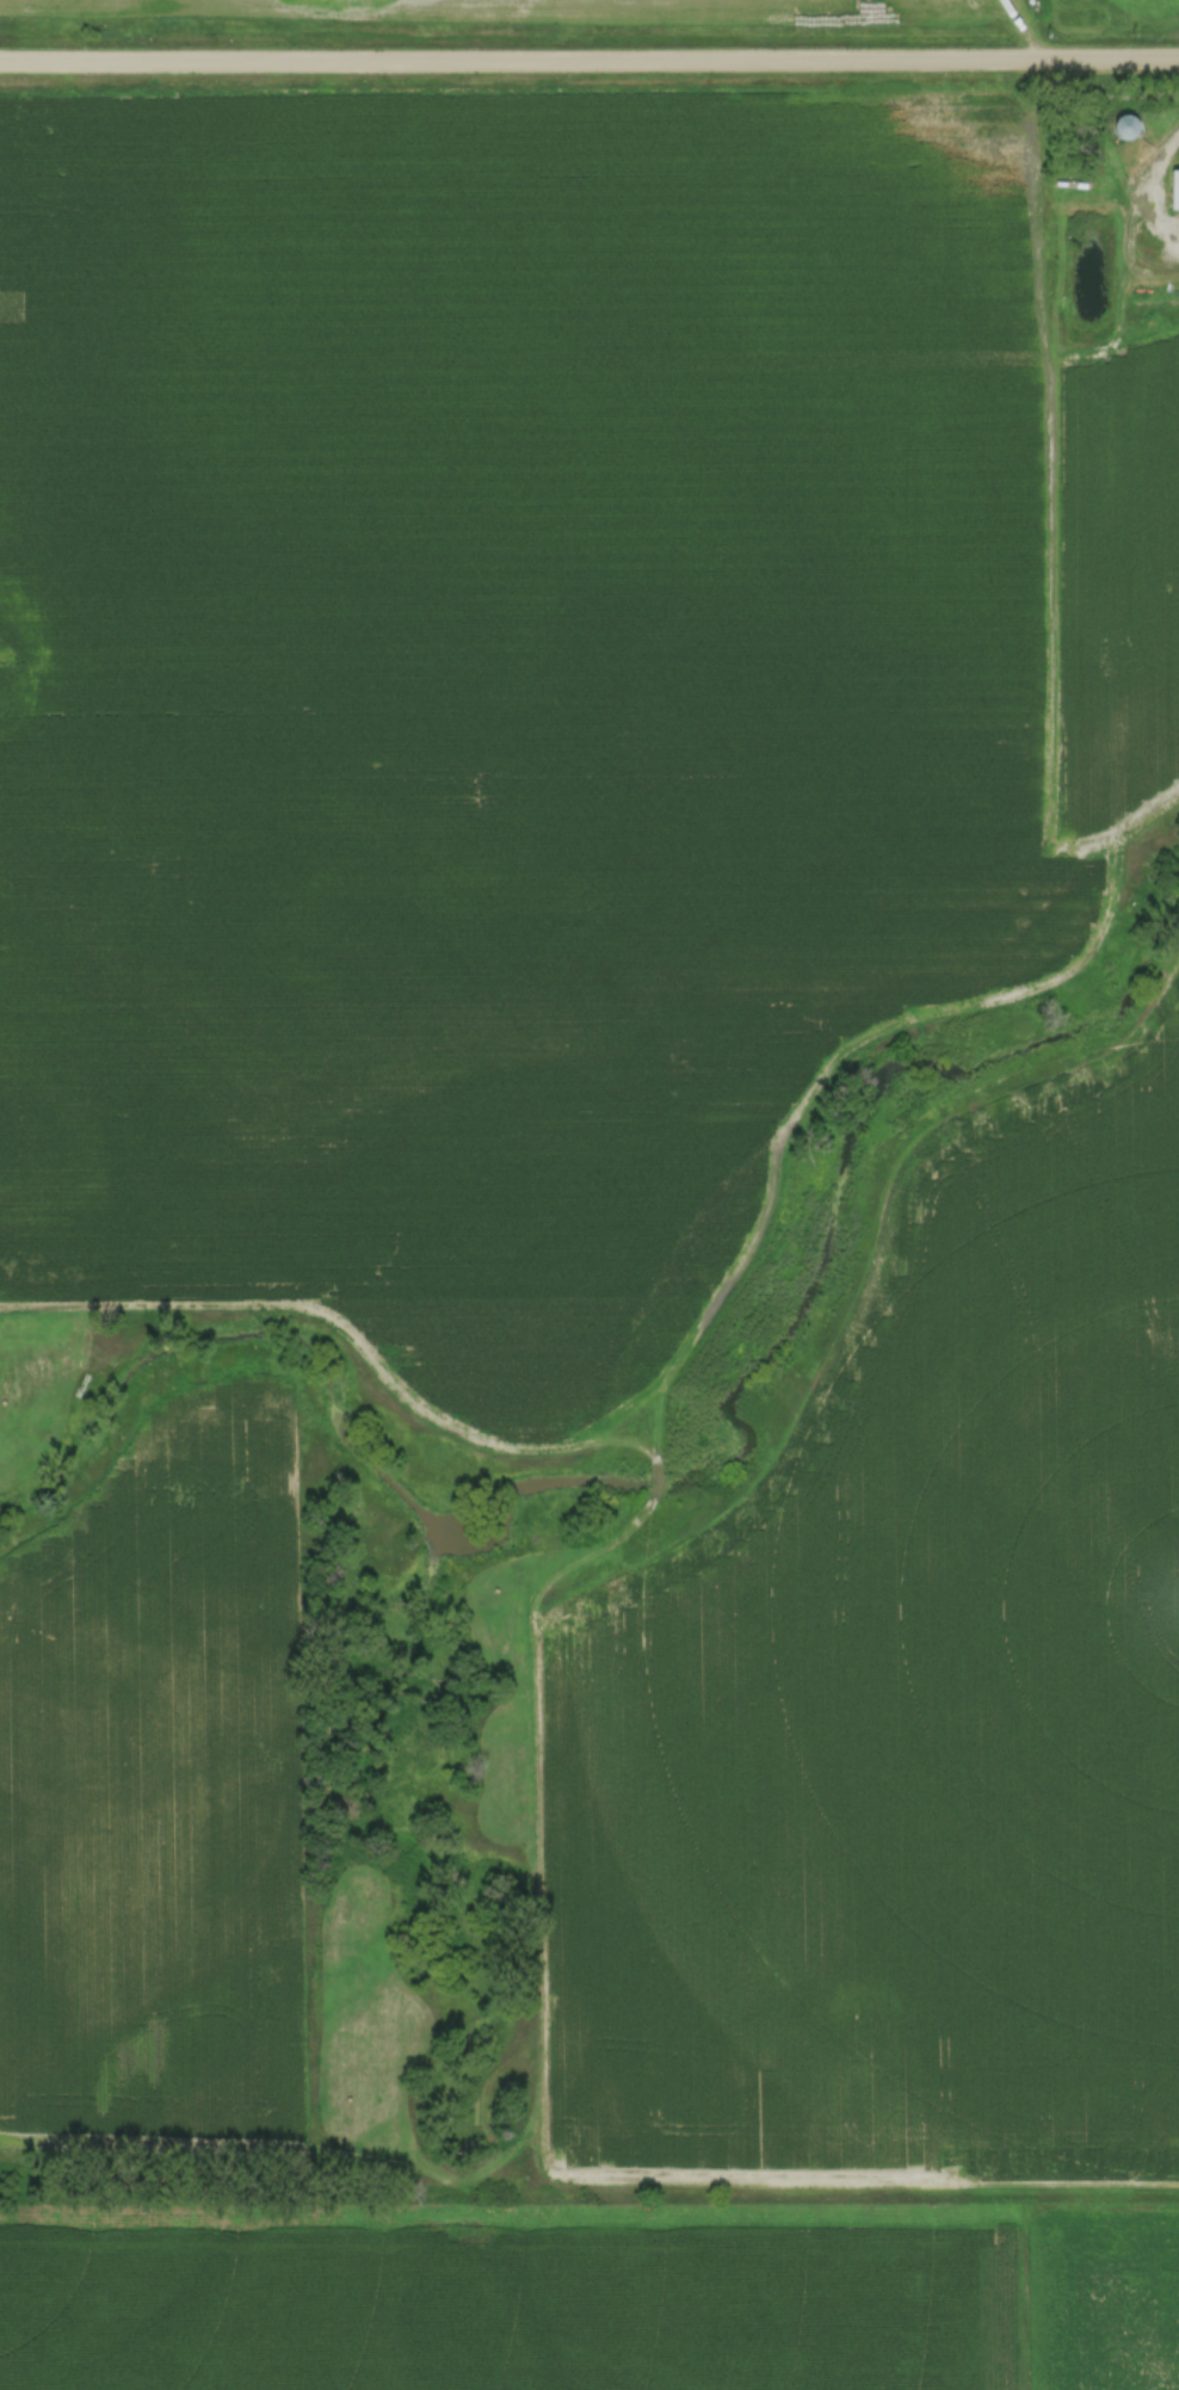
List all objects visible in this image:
road: (589, 58)
building: (1124, 125)
building: (1173, 189)
crop: (1118, 579)
crop: (156, 1785)

